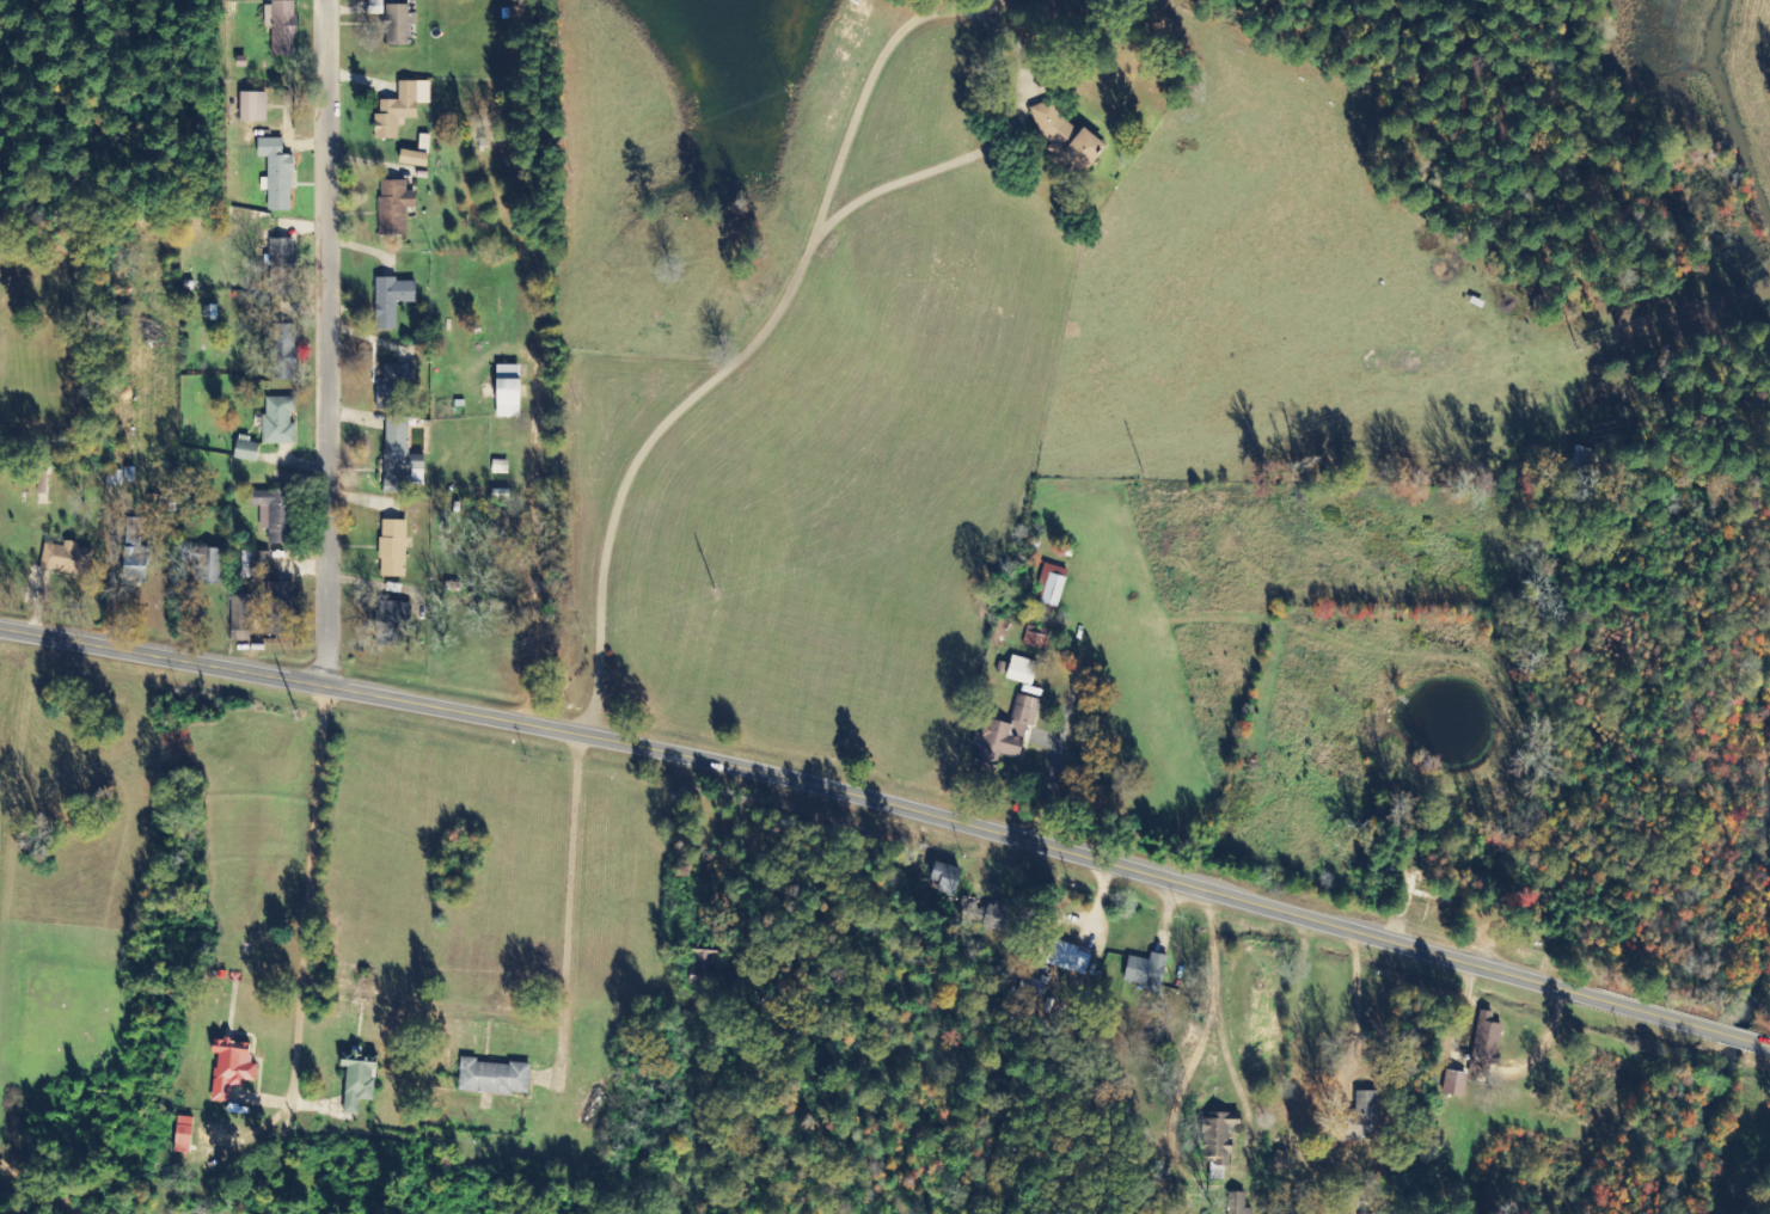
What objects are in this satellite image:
building: (398, 24)
building: (281, 27)
road: (911, 69)
building: (253, 108)
building: (400, 109)
building: (1066, 136)
building: (415, 159)
building: (276, 174)
building: (394, 207)
building: (282, 268)
building: (392, 301)
road: (329, 342)
building: (281, 350)
building: (392, 388)
building: (509, 391)
building: (278, 421)
road: (633, 444)
building: (246, 449)
building: (397, 455)
building: (275, 514)
building: (393, 548)
building: (135, 552)
building: (67, 559)
building: (255, 563)
building: (209, 565)
building: (1053, 590)
building: (280, 609)
building: (392, 617)
building: (240, 619)
building: (1022, 672)
road: (892, 805)
building: (945, 879)
building: (1071, 959)
building: (705, 969)
building: (1146, 971)
building: (1031, 987)
road: (454, 993)
building: (232, 1068)
building: (494, 1078)
building: (359, 1080)
building: (1218, 1134)
building: (184, 1135)
building: (1237, 1203)

